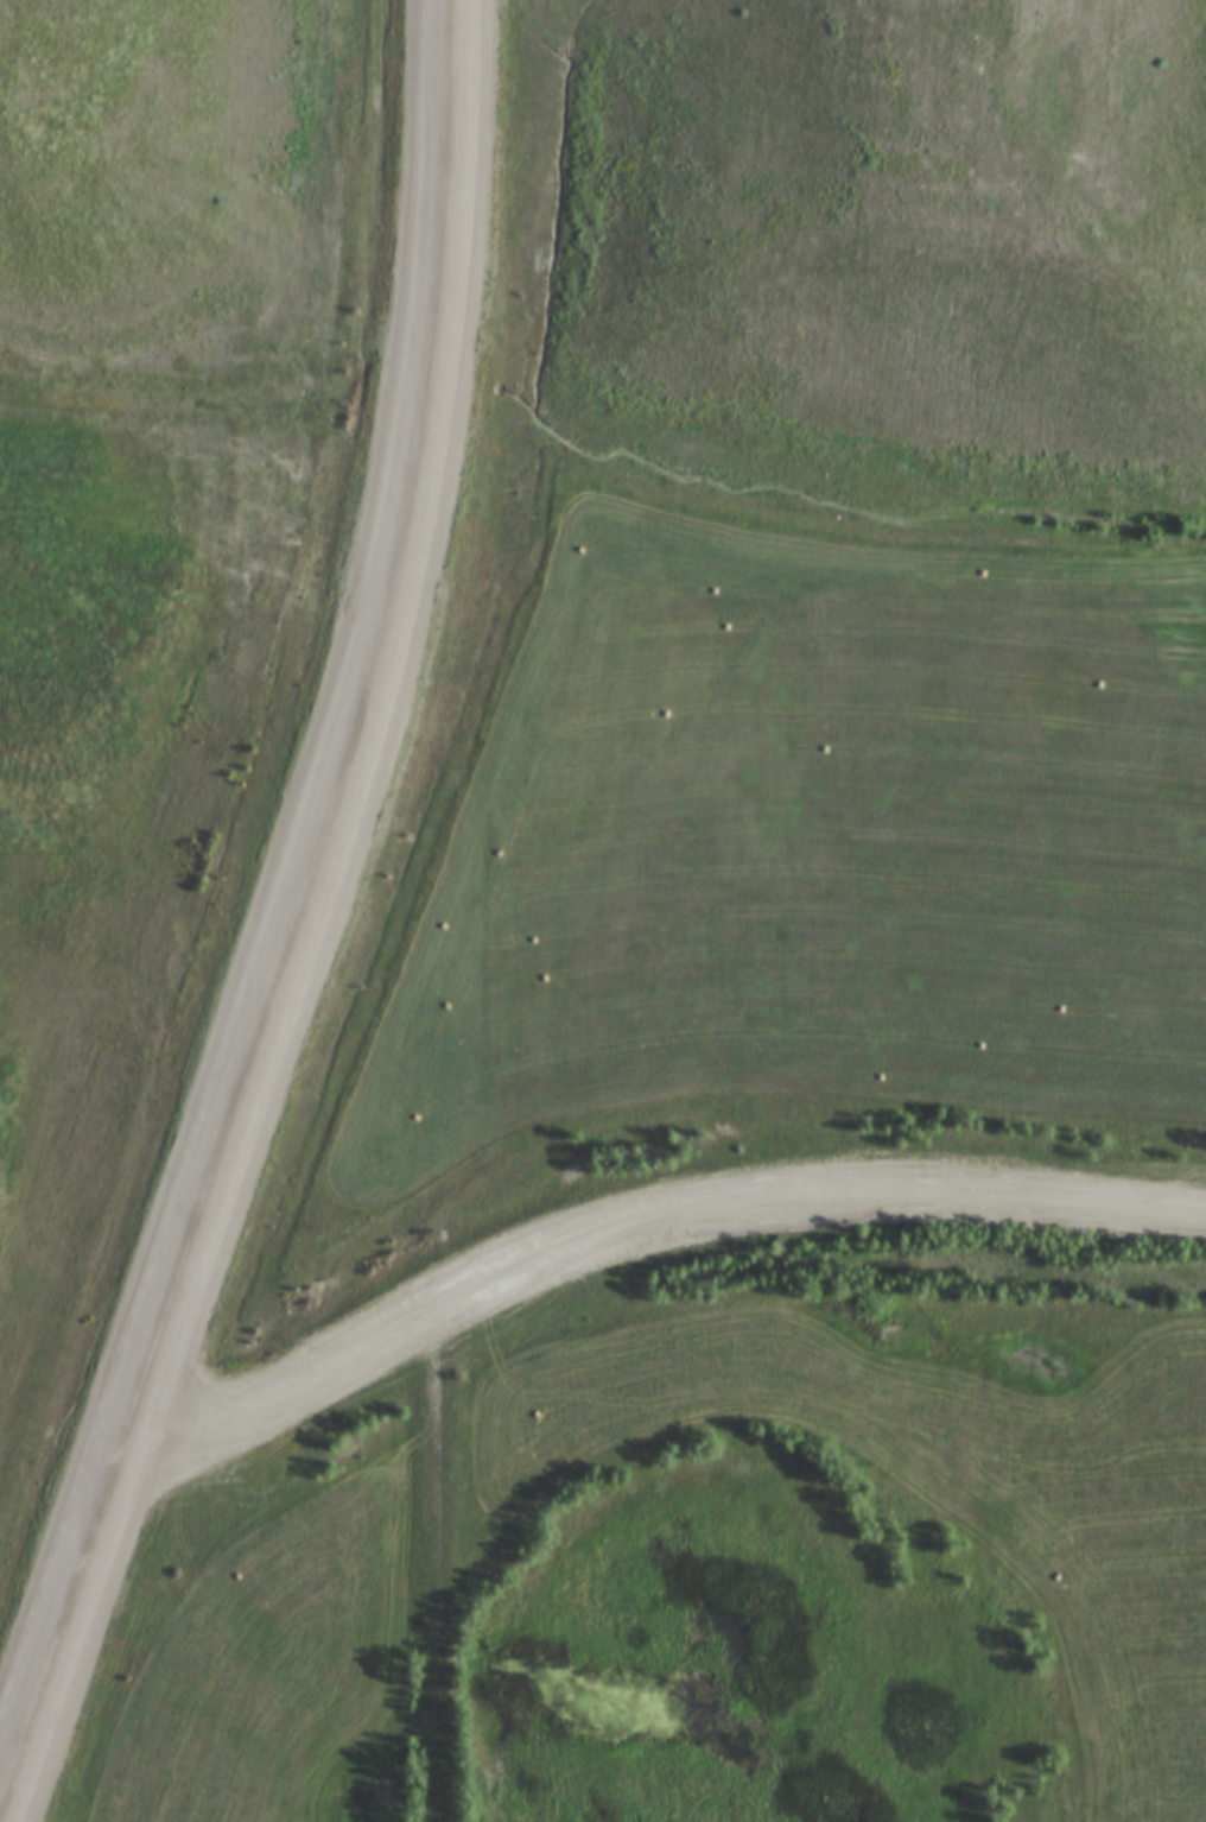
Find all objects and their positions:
quarry: (611, 247)
road: (491, 1291)
road: (437, 1570)

